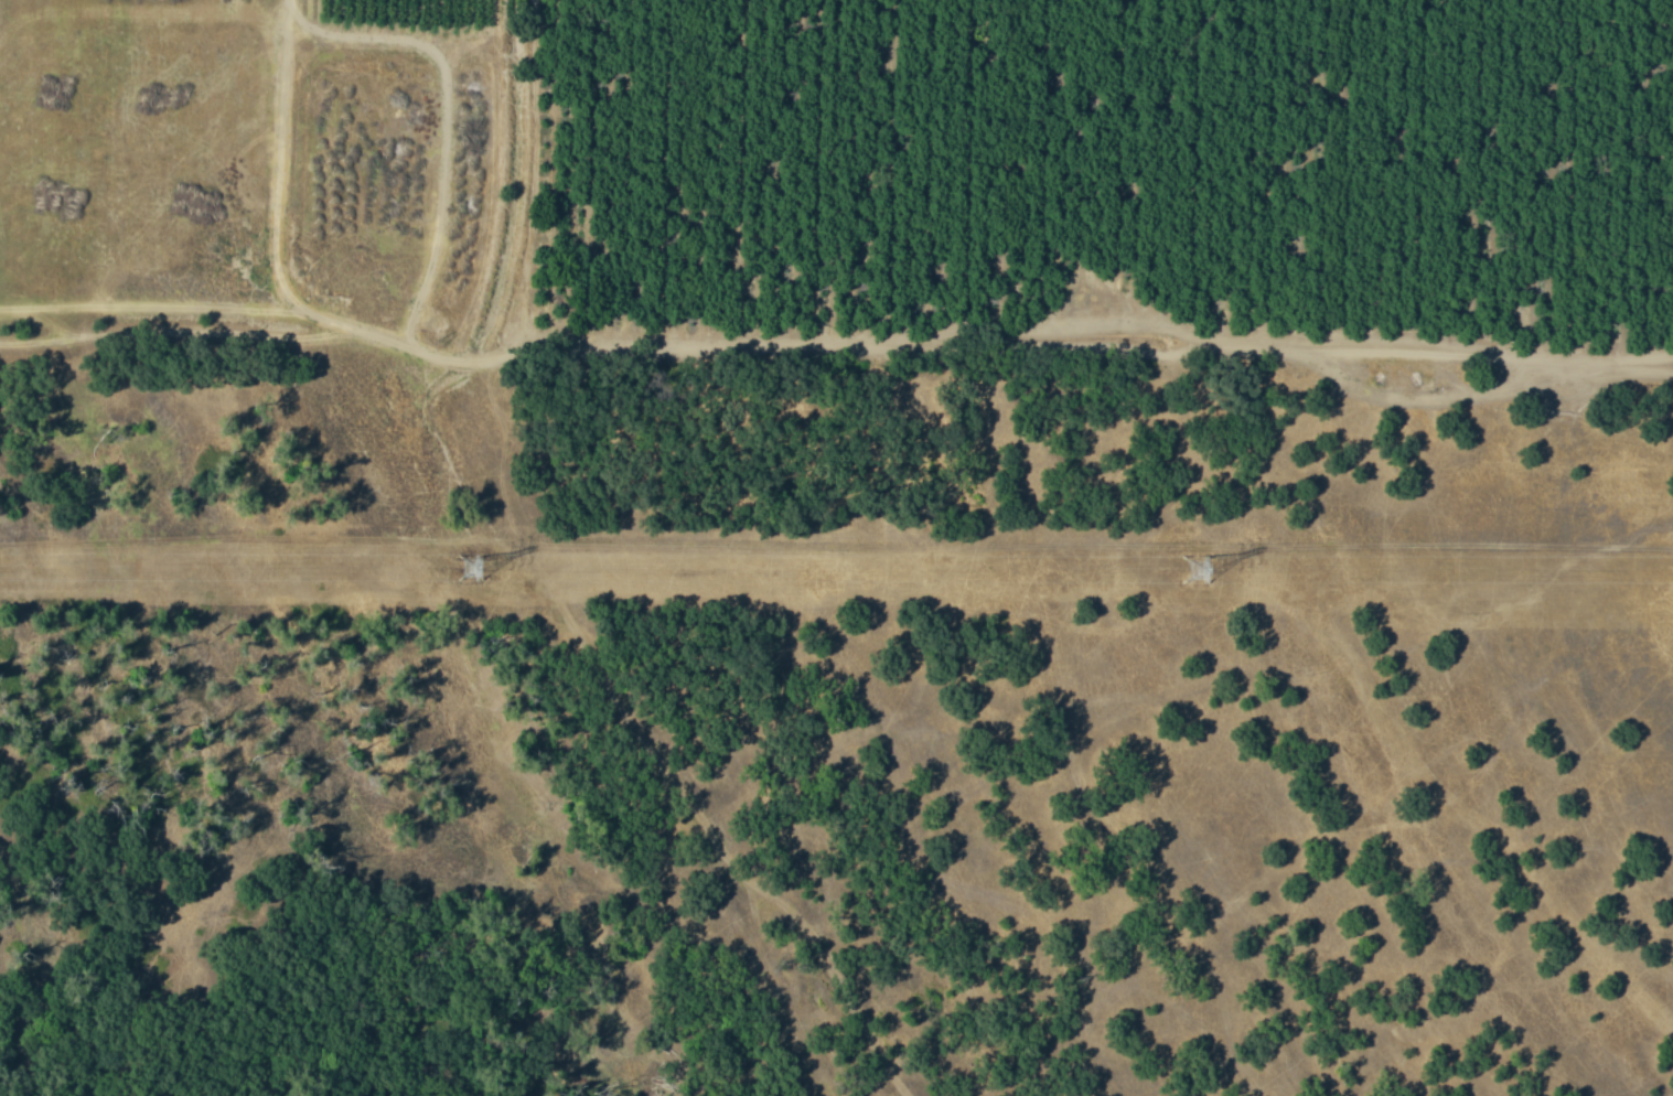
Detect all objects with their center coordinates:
power tower: (470, 568)
power tower: (1195, 570)

